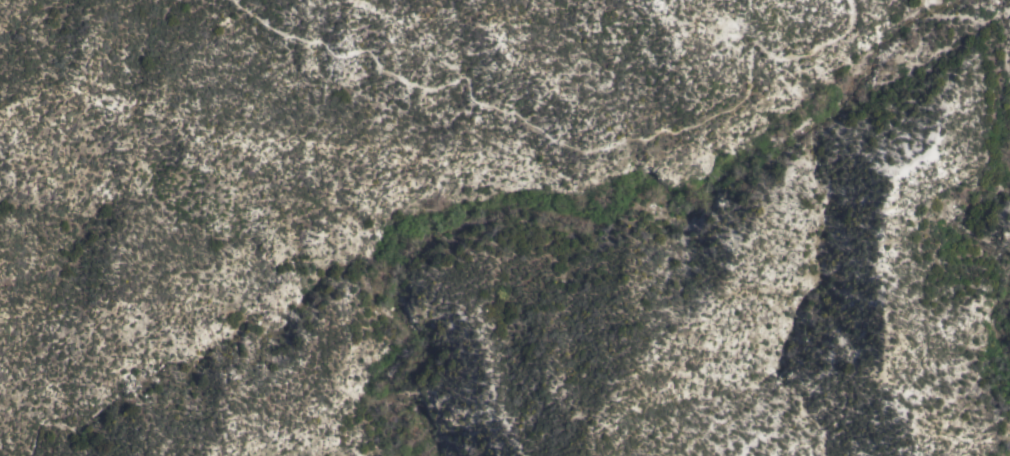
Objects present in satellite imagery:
road: (962, 15)
road: (562, 142)

